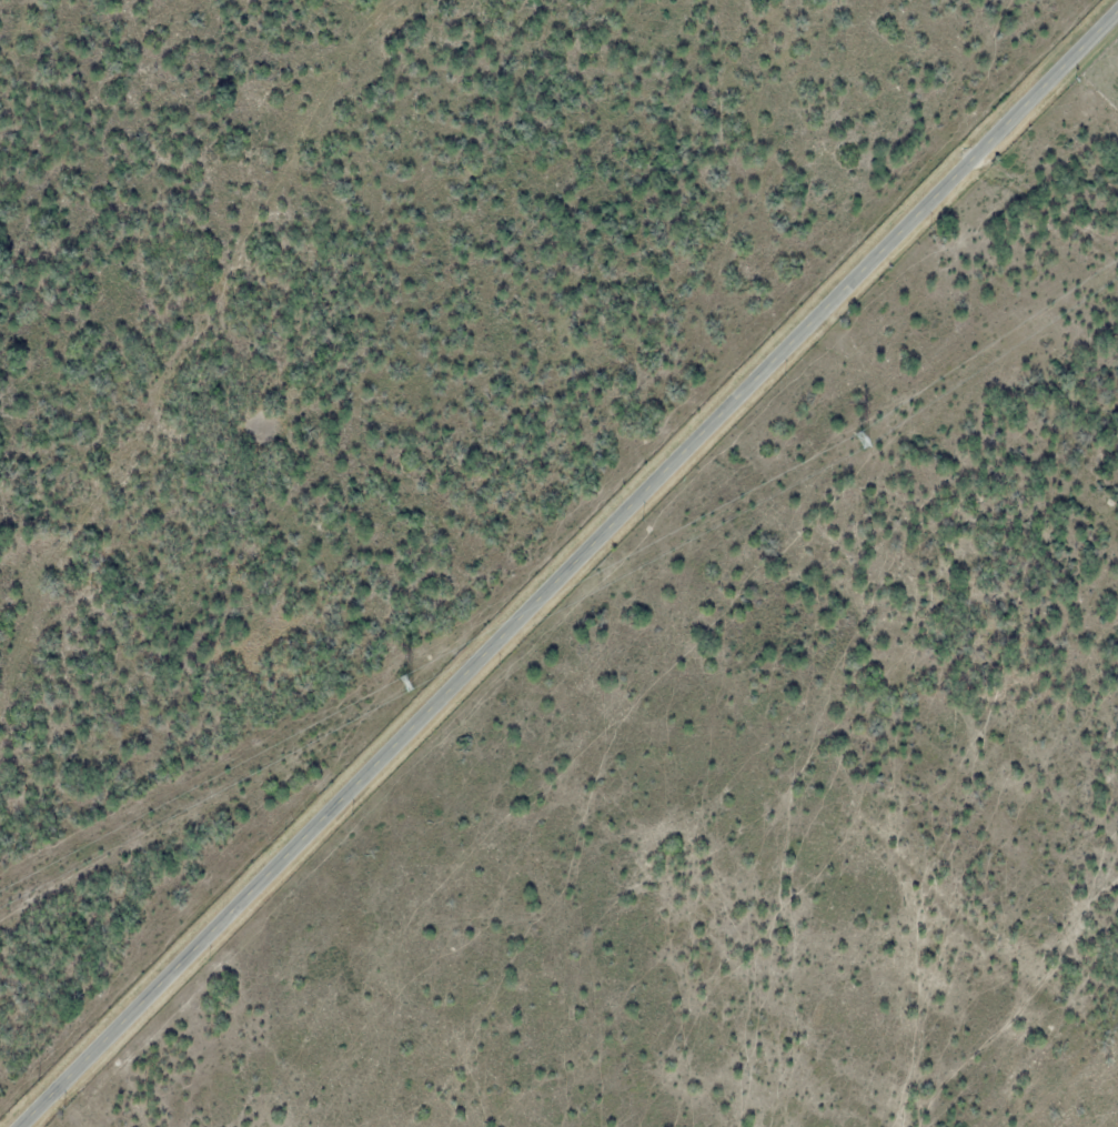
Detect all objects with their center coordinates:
power tower: (858, 440)
road: (571, 571)
power tower: (402, 682)

